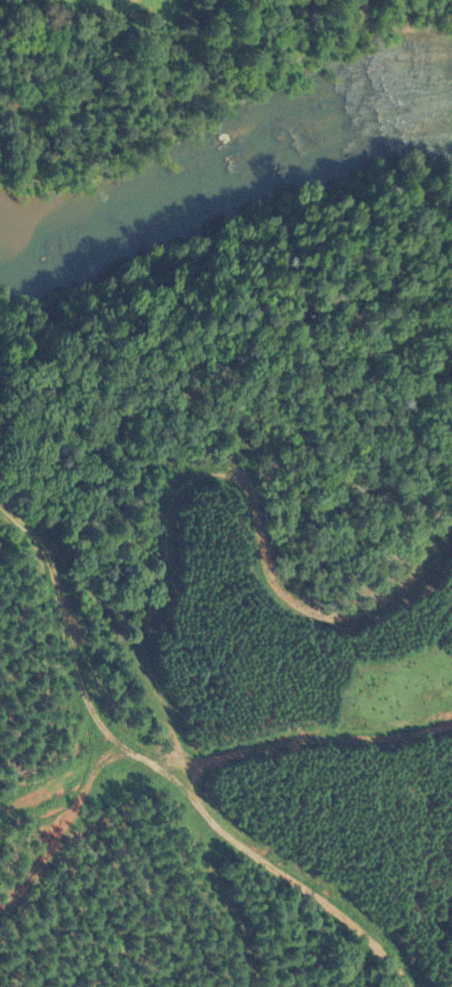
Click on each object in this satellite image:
river: (228, 168)

